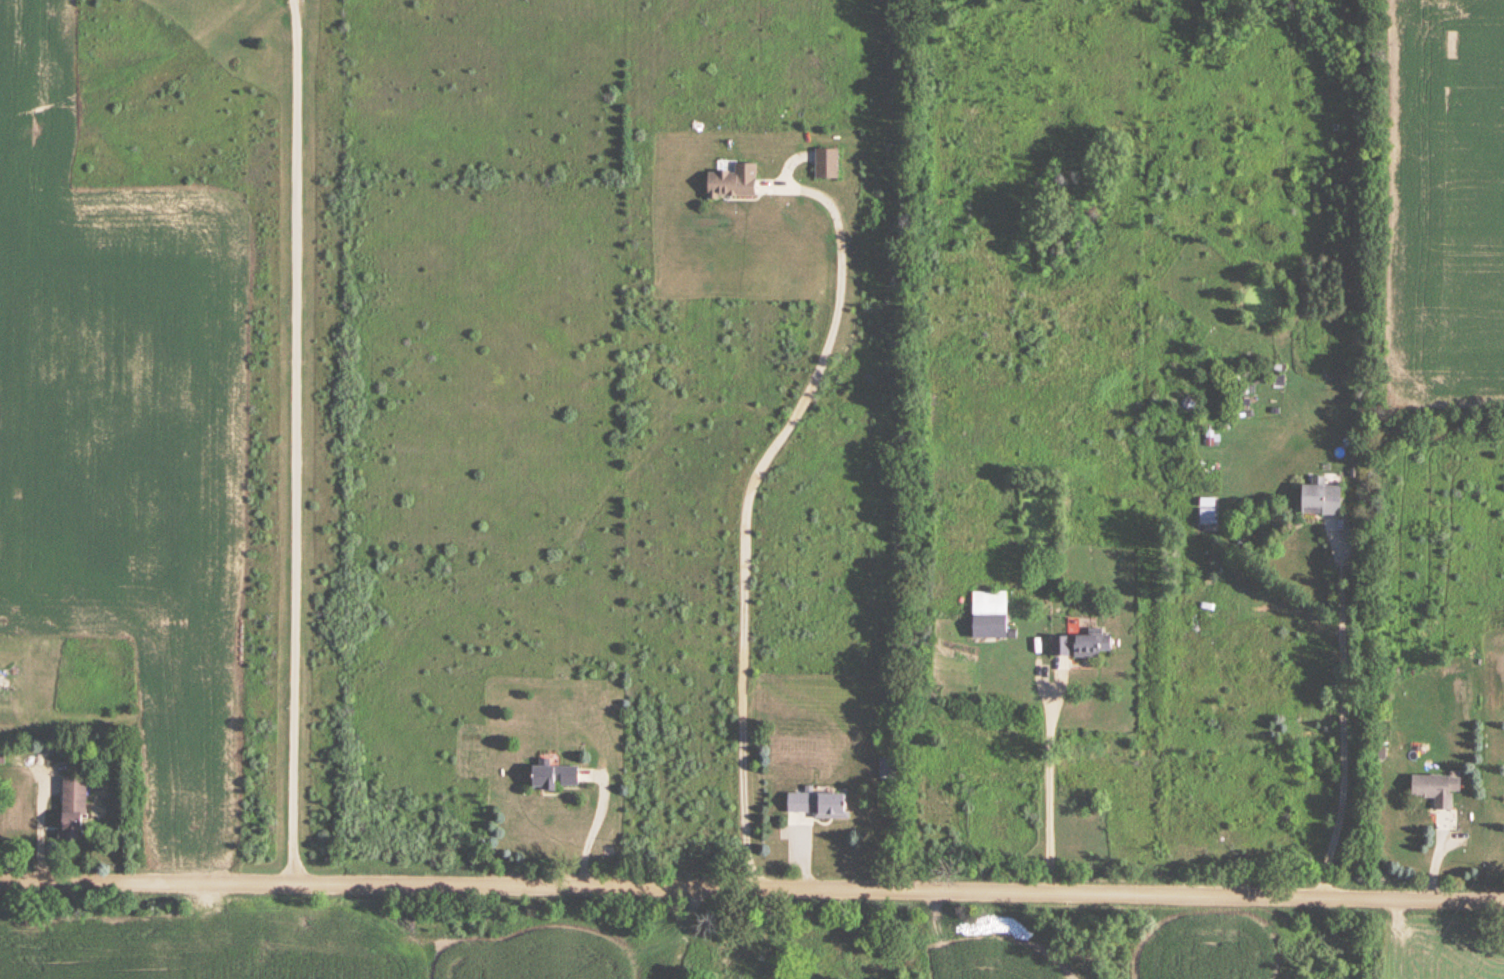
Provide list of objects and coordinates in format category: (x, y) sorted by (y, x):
building: (826, 164)
building: (733, 183)
road: (297, 443)
building: (1321, 497)
road: (751, 514)
building: (989, 616)
building: (1082, 645)
road: (1341, 724)
building: (2, 753)
building: (555, 777)
road: (1050, 783)
building: (1436, 790)
building: (818, 805)
building: (73, 811)
road: (41, 828)
road: (592, 828)
road: (751, 893)

